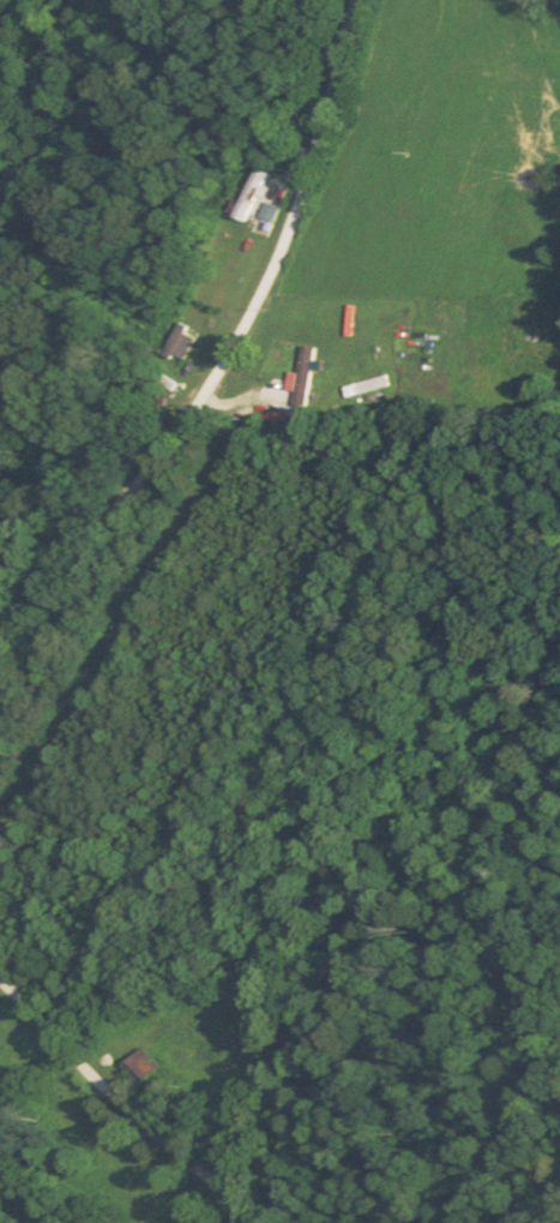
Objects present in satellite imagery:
building: (247, 196)
building: (179, 344)
road: (222, 362)
building: (300, 378)
road: (131, 1102)

